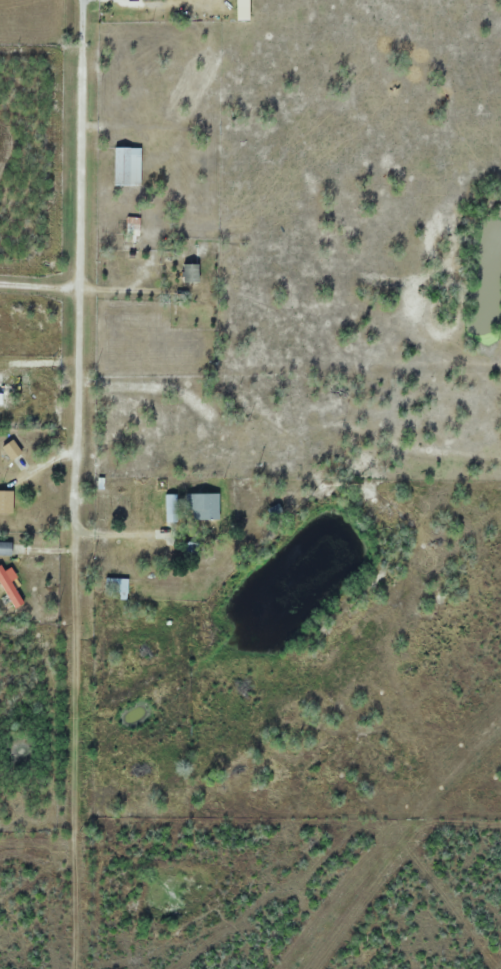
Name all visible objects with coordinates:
building: (149, 0)
building: (127, 166)
building: (133, 226)
road: (81, 251)
building: (0, 398)
building: (12, 449)
building: (195, 467)
building: (6, 501)
building: (203, 506)
building: (170, 508)
building: (6, 548)
building: (10, 586)
building: (118, 586)

